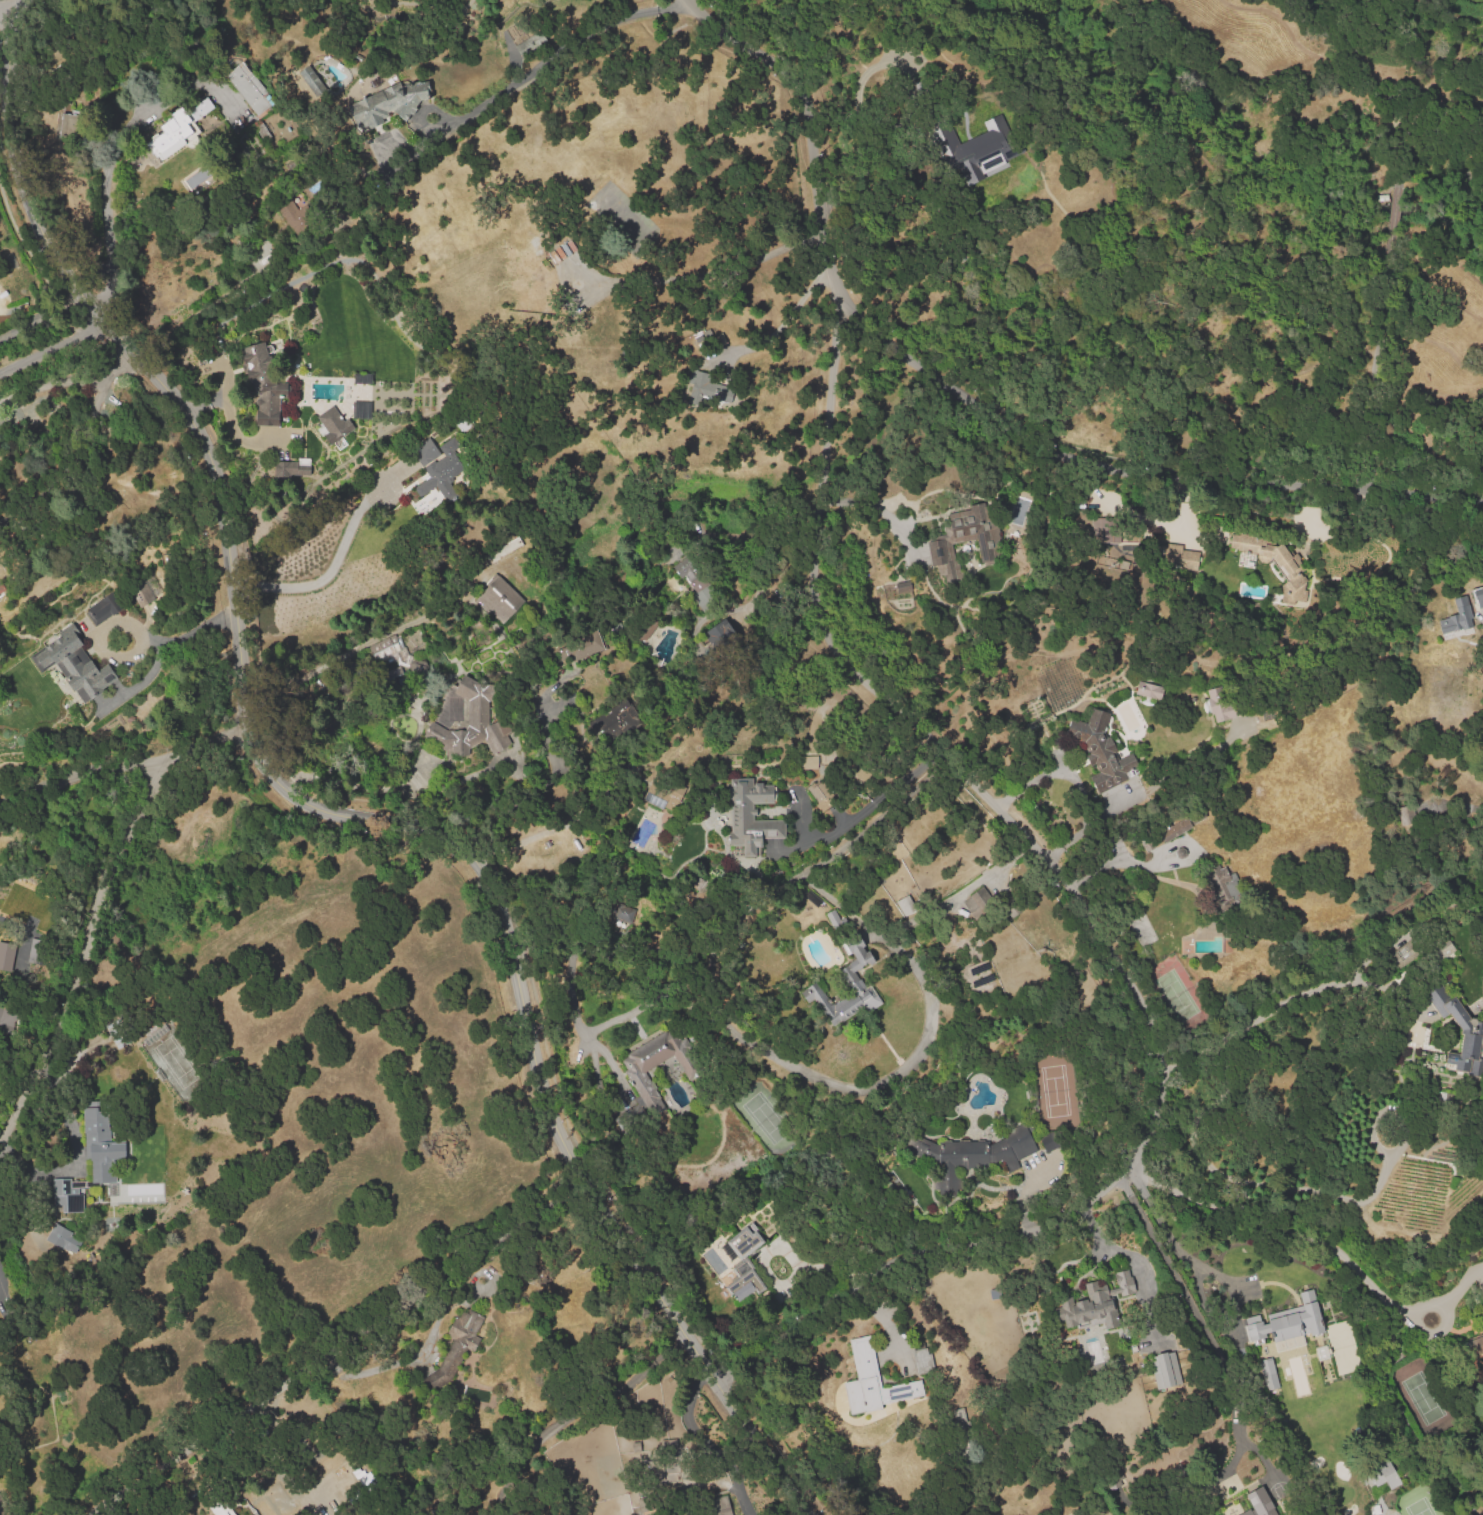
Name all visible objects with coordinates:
road: (6, 6)
road: (4, 17)
building: (530, 42)
road: (565, 44)
building: (312, 81)
building: (250, 87)
building: (387, 105)
building: (181, 130)
building: (994, 144)
road: (105, 203)
building: (294, 217)
road: (27, 235)
road: (702, 275)
building: (512, 280)
road: (42, 320)
road: (784, 320)
road: (50, 347)
building: (1429, 368)
building: (264, 383)
building: (707, 387)
road: (977, 401)
building: (336, 429)
building: (427, 451)
building: (291, 467)
building: (447, 468)
road: (876, 507)
building: (1105, 529)
building: (991, 552)
building: (1266, 555)
building: (1179, 556)
building: (684, 568)
road: (323, 578)
building: (902, 586)
building: (140, 591)
building: (1478, 598)
building: (498, 602)
building: (103, 609)
building: (1455, 618)
building: (644, 629)
building: (719, 634)
road: (172, 639)
building: (578, 647)
building: (384, 652)
building: (74, 664)
building: (1149, 690)
building: (1222, 703)
building: (613, 721)
building: (473, 724)
building: (1102, 751)
building: (808, 763)
road: (125, 766)
road: (1077, 783)
building: (676, 794)
building: (823, 796)
building: (653, 798)
road: (322, 802)
road: (872, 802)
building: (1405, 814)
building: (750, 815)
building: (1174, 829)
road: (1152, 858)
building: (1229, 882)
building: (978, 904)
building: (908, 906)
building: (622, 912)
building: (837, 923)
road: (11, 924)
road: (1093, 924)
building: (1442, 949)
road: (83, 950)
building: (858, 953)
building: (1404, 953)
building: (6, 955)
road: (570, 965)
building: (847, 1007)
building: (3, 1011)
road: (1255, 1020)
building: (0, 1029)
building: (1413, 1031)
building: (1460, 1035)
building: (657, 1064)
road: (892, 1072)
building: (1048, 1143)
building: (100, 1146)
building: (979, 1158)
building: (63, 1188)
road: (1289, 1229)
building: (63, 1238)
road: (1171, 1240)
building: (743, 1268)
building: (1482, 1290)
building: (1482, 1294)
building: (1097, 1304)
road: (1199, 1318)
building: (1286, 1320)
road: (347, 1338)
building: (1482, 1339)
building: (456, 1349)
building: (1165, 1369)
building: (1267, 1373)
building: (883, 1378)
road: (578, 1411)
road: (698, 1438)
building: (1383, 1474)
building: (1258, 1502)
building: (220, 1507)
building: (719, 1510)
building: (1206, 1513)

